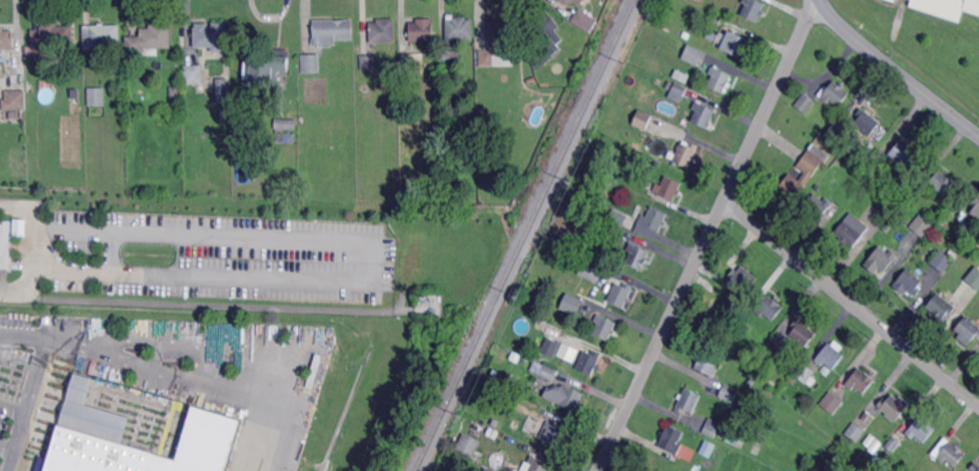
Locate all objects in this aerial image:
building: (892, 0)
building: (895, 0)
building: (580, 1)
building: (566, 2)
building: (964, 4)
building: (753, 9)
building: (715, 18)
building: (584, 20)
building: (458, 29)
building: (422, 30)
building: (332, 31)
building: (383, 31)
building: (53, 35)
building: (546, 35)
building: (685, 35)
building: (101, 36)
building: (211, 36)
building: (6, 39)
building: (150, 39)
building: (735, 43)
building: (500, 46)
building: (693, 55)
building: (449, 59)
building: (310, 63)
building: (368, 63)
building: (412, 64)
building: (266, 69)
road: (896, 70)
building: (194, 74)
building: (452, 74)
building: (681, 75)
building: (719, 79)
building: (669, 84)
building: (384, 85)
building: (223, 89)
building: (175, 92)
building: (679, 92)
building: (835, 93)
building: (349, 95)
building: (97, 96)
building: (15, 100)
building: (804, 103)
building: (703, 114)
building: (225, 115)
building: (643, 120)
building: (866, 122)
building: (837, 131)
building: (285, 132)
building: (820, 152)
building: (903, 152)
building: (686, 153)
building: (458, 161)
building: (652, 162)
building: (807, 176)
building: (941, 183)
building: (92, 184)
building: (668, 188)
building: (912, 191)
building: (818, 206)
building: (976, 207)
building: (619, 217)
building: (654, 219)
building: (583, 220)
building: (881, 220)
building: (922, 224)
building: (18, 226)
building: (888, 227)
building: (852, 230)
building: (612, 232)
railway: (526, 235)
road: (708, 235)
road: (34, 243)
building: (4, 244)
road: (112, 252)
building: (952, 253)
building: (978, 253)
building: (638, 256)
building: (879, 261)
building: (942, 261)
road: (379, 263)
building: (592, 269)
building: (974, 277)
building: (741, 281)
building: (909, 283)
building: (622, 294)
road: (852, 303)
building: (573, 304)
building: (770, 307)
building: (942, 307)
building: (721, 308)
building: (605, 327)
building: (968, 331)
building: (802, 332)
road: (206, 343)
building: (550, 347)
building: (774, 349)
building: (566, 351)
building: (830, 356)
building: (707, 361)
building: (589, 362)
road: (19, 367)
building: (826, 370)
building: (548, 372)
building: (803, 373)
road: (35, 380)
road: (202, 380)
building: (861, 381)
building: (772, 383)
building: (730, 393)
building: (770, 393)
building: (563, 396)
building: (688, 401)
building: (832, 402)
road: (13, 407)
building: (892, 408)
building: (827, 415)
building: (94, 423)
building: (921, 429)
building: (856, 432)
building: (553, 434)
building: (724, 435)
building: (673, 438)
building: (893, 444)
road: (7, 446)
building: (467, 447)
building: (757, 449)
building: (949, 452)
building: (538, 464)
building: (974, 467)
building: (488, 469)
building: (860, 469)

